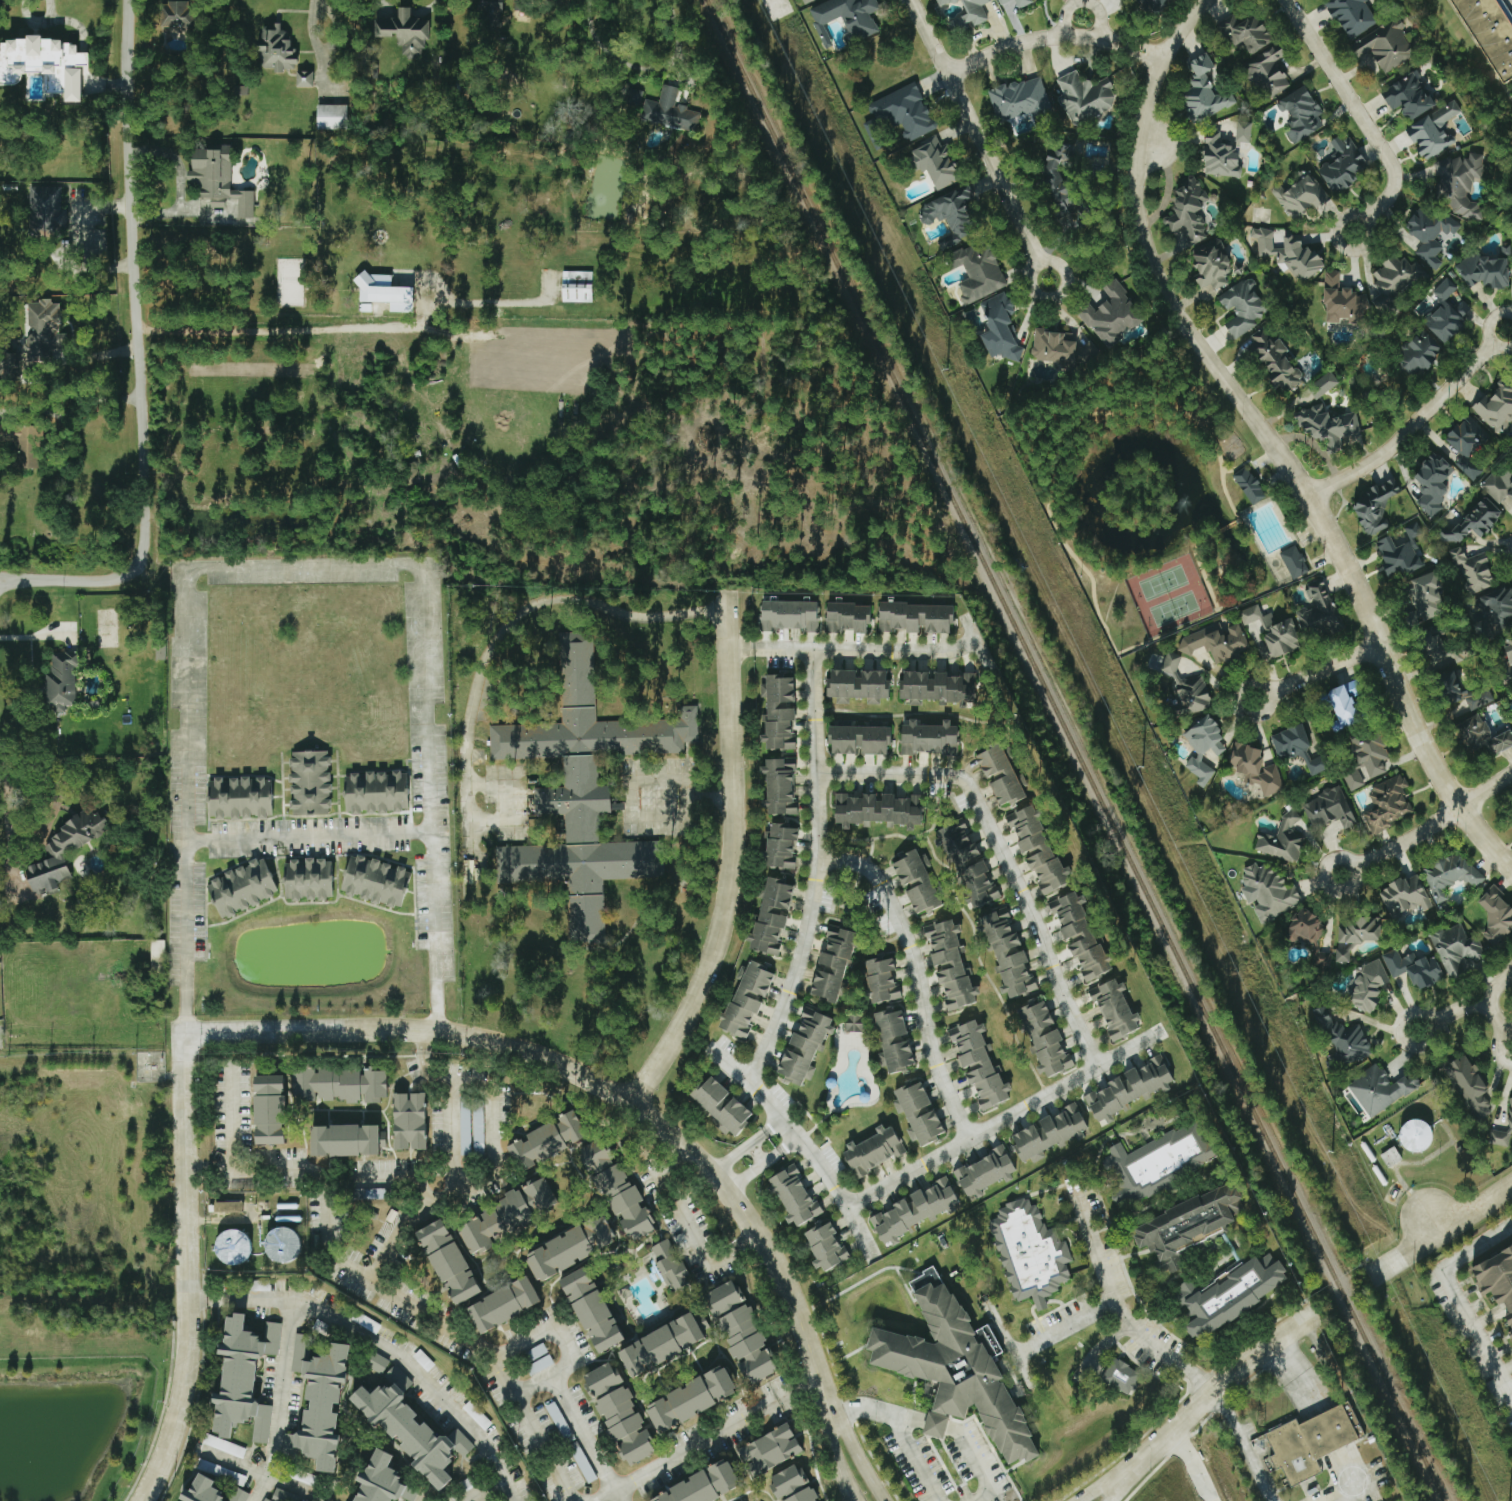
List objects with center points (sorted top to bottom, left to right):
building: (805, 1)
building: (1002, 1)
building: (943, 2)
building: (1022, 3)
building: (1152, 4)
parking lot: (1508, 5)
building: (490, 11)
building: (179, 15)
building: (1351, 15)
building: (968, 16)
building: (845, 18)
road: (1082, 28)
building: (404, 32)
building: (1247, 33)
building: (1491, 33)
road: (1052, 37)
building: (1385, 45)
building: (276, 48)
road: (326, 50)
building: (44, 64)
road: (642, 68)
building: (1267, 71)
building: (303, 79)
building: (1205, 90)
building: (1409, 96)
building: (1084, 97)
building: (1019, 99)
building: (669, 111)
building: (904, 111)
building: (1301, 113)
building: (331, 116)
road: (1362, 118)
building: (1433, 130)
building: (871, 132)
building: (1243, 132)
road: (979, 139)
road: (1149, 143)
building: (1220, 157)
building: (936, 162)
building: (1342, 164)
building: (217, 179)
building: (1458, 184)
building: (1299, 197)
building: (45, 210)
building: (1187, 211)
building: (950, 215)
building: (1430, 233)
building: (1288, 254)
building: (1211, 266)
building: (1485, 269)
building: (978, 273)
building: (1394, 279)
building: (576, 287)
building: (384, 292)
building: (1341, 301)
building: (1243, 306)
building: (1447, 313)
building: (1112, 315)
building: (998, 327)
road: (279, 328)
building: (34, 340)
building: (1061, 348)
building: (1421, 352)
road: (137, 353)
building: (1275, 359)
power tower: (946, 370)
building: (1325, 382)
road: (81, 398)
building: (1496, 407)
road: (1415, 422)
building: (1327, 425)
road: (1270, 438)
building: (1468, 446)
building: (1433, 483)
building: (1248, 485)
building: (1497, 487)
park: (1158, 496)
building: (1375, 506)
building: (1474, 522)
building: (1399, 554)
building: (1293, 562)
road: (302, 567)
building: (1472, 571)
park: (1162, 576)
building: (1425, 599)
park: (1172, 602)
building: (1317, 610)
building: (1494, 614)
building: (789, 615)
building: (847, 617)
building: (916, 618)
road: (506, 626)
building: (1271, 633)
building: (1216, 642)
road: (856, 650)
building: (1507, 655)
road: (1317, 670)
building: (61, 682)
building: (858, 686)
building: (938, 687)
building: (1187, 689)
building: (1470, 700)
building: (1344, 705)
building: (779, 711)
building: (1481, 736)
building: (929, 738)
building: (859, 740)
building: (1203, 747)
building: (1298, 749)
railway: (1076, 750)
road: (4, 760)
power tower: (1142, 768)
building: (1255, 769)
building: (1001, 776)
road: (659, 781)
building: (309, 783)
building: (779, 787)
building: (376, 792)
building: (583, 792)
building: (239, 798)
road: (521, 801)
building: (1387, 804)
road: (678, 805)
building: (1329, 809)
building: (876, 810)
road: (45, 823)
road: (1428, 826)
road: (307, 833)
building: (1282, 841)
building: (780, 846)
building: (1037, 848)
building: (63, 852)
road: (1002, 852)
road: (734, 856)
building: (968, 864)
road: (815, 869)
building: (1448, 875)
building: (308, 880)
building: (375, 881)
building: (916, 882)
building: (242, 888)
building: (1269, 892)
building: (1404, 897)
building: (772, 915)
building: (1496, 915)
building: (1307, 928)
building: (1080, 936)
building: (1355, 936)
building: (1456, 950)
building: (156, 951)
building: (1007, 954)
building: (1322, 959)
building: (833, 963)
building: (950, 965)
building: (1414, 969)
road: (917, 975)
building: (882, 980)
building: (1368, 987)
building: (746, 998)
road: (1467, 1004)
building: (1115, 1009)
road: (1497, 1018)
building: (853, 1023)
road: (1, 1037)
building: (1045, 1039)
building: (893, 1040)
building: (1342, 1041)
building: (804, 1046)
building: (978, 1062)
road: (426, 1064)
building: (339, 1083)
road: (599, 1083)
building: (1469, 1086)
building: (1129, 1088)
building: (1380, 1089)
road: (186, 1099)
building: (722, 1105)
building: (1510, 1106)
building: (269, 1108)
building: (918, 1112)
road: (231, 1117)
building: (409, 1120)
road: (998, 1121)
building: (464, 1126)
road: (765, 1130)
building: (1049, 1133)
building: (1415, 1135)
building: (345, 1138)
building: (547, 1139)
road: (802, 1146)
road: (781, 1150)
building: (873, 1150)
road: (758, 1152)
power tower: (1331, 1153)
road: (731, 1156)
building: (1390, 1157)
building: (1156, 1162)
road: (368, 1172)
building: (984, 1172)
road: (747, 1175)
road: (496, 1182)
road: (447, 1185)
building: (617, 1189)
building: (539, 1193)
building: (793, 1195)
building: (227, 1206)
building: (914, 1210)
road: (1432, 1220)
building: (495, 1221)
building: (1188, 1224)
road: (1444, 1228)
road: (696, 1229)
building: (282, 1244)
building: (825, 1245)
building: (232, 1246)
building: (570, 1247)
building: (1028, 1252)
building: (448, 1260)
building: (669, 1264)
building: (1497, 1276)
building: (1229, 1294)
road: (1459, 1298)
building: (504, 1304)
road: (1119, 1306)
building: (592, 1307)
road: (453, 1323)
road: (1059, 1328)
building: (741, 1331)
road: (187, 1336)
road: (371, 1338)
road: (575, 1341)
building: (661, 1344)
building: (377, 1363)
building: (957, 1369)
building: (1122, 1377)
building: (243, 1378)
road: (1295, 1380)
road: (1213, 1393)
building: (691, 1398)
road: (278, 1399)
building: (319, 1401)
road: (867, 1408)
building: (619, 1413)
building: (412, 1427)
road: (594, 1437)
road: (713, 1437)
building: (1310, 1442)
road: (965, 1443)
road: (1243, 1445)
building: (770, 1449)
road: (835, 1454)
road: (859, 1458)
road: (914, 1461)
road: (1190, 1465)
building: (308, 1479)
building: (383, 1480)
helipad: (1350, 1483)
building: (703, 1484)
building: (791, 1485)
road: (493, 1487)
road: (1099, 1487)
road: (1115, 1488)
building: (202, 1490)
road: (850, 1494)
building: (239, 1495)
road: (1335, 1499)

